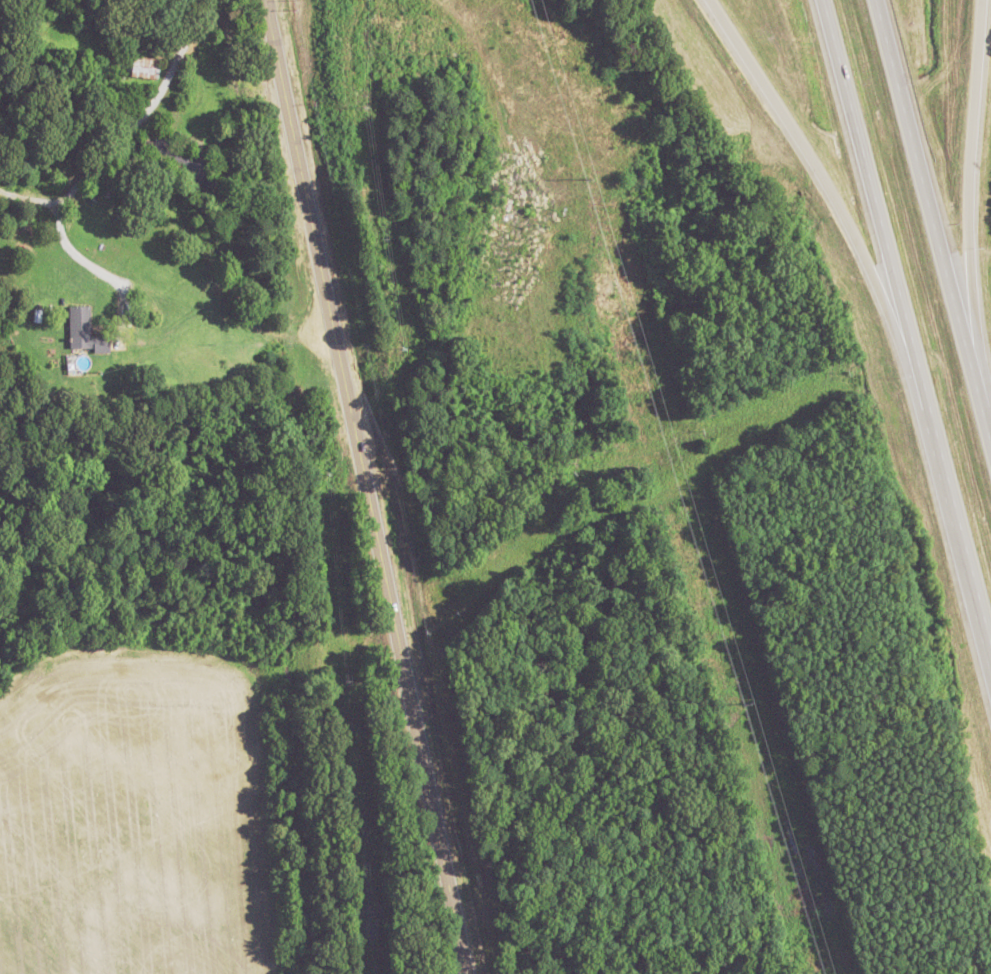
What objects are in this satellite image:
building: (144, 67)
road: (125, 130)
building: (185, 161)
power tower: (587, 176)
road: (839, 207)
road: (933, 224)
road: (964, 224)
road: (906, 325)
building: (84, 330)
road: (367, 487)
power tower: (746, 701)

